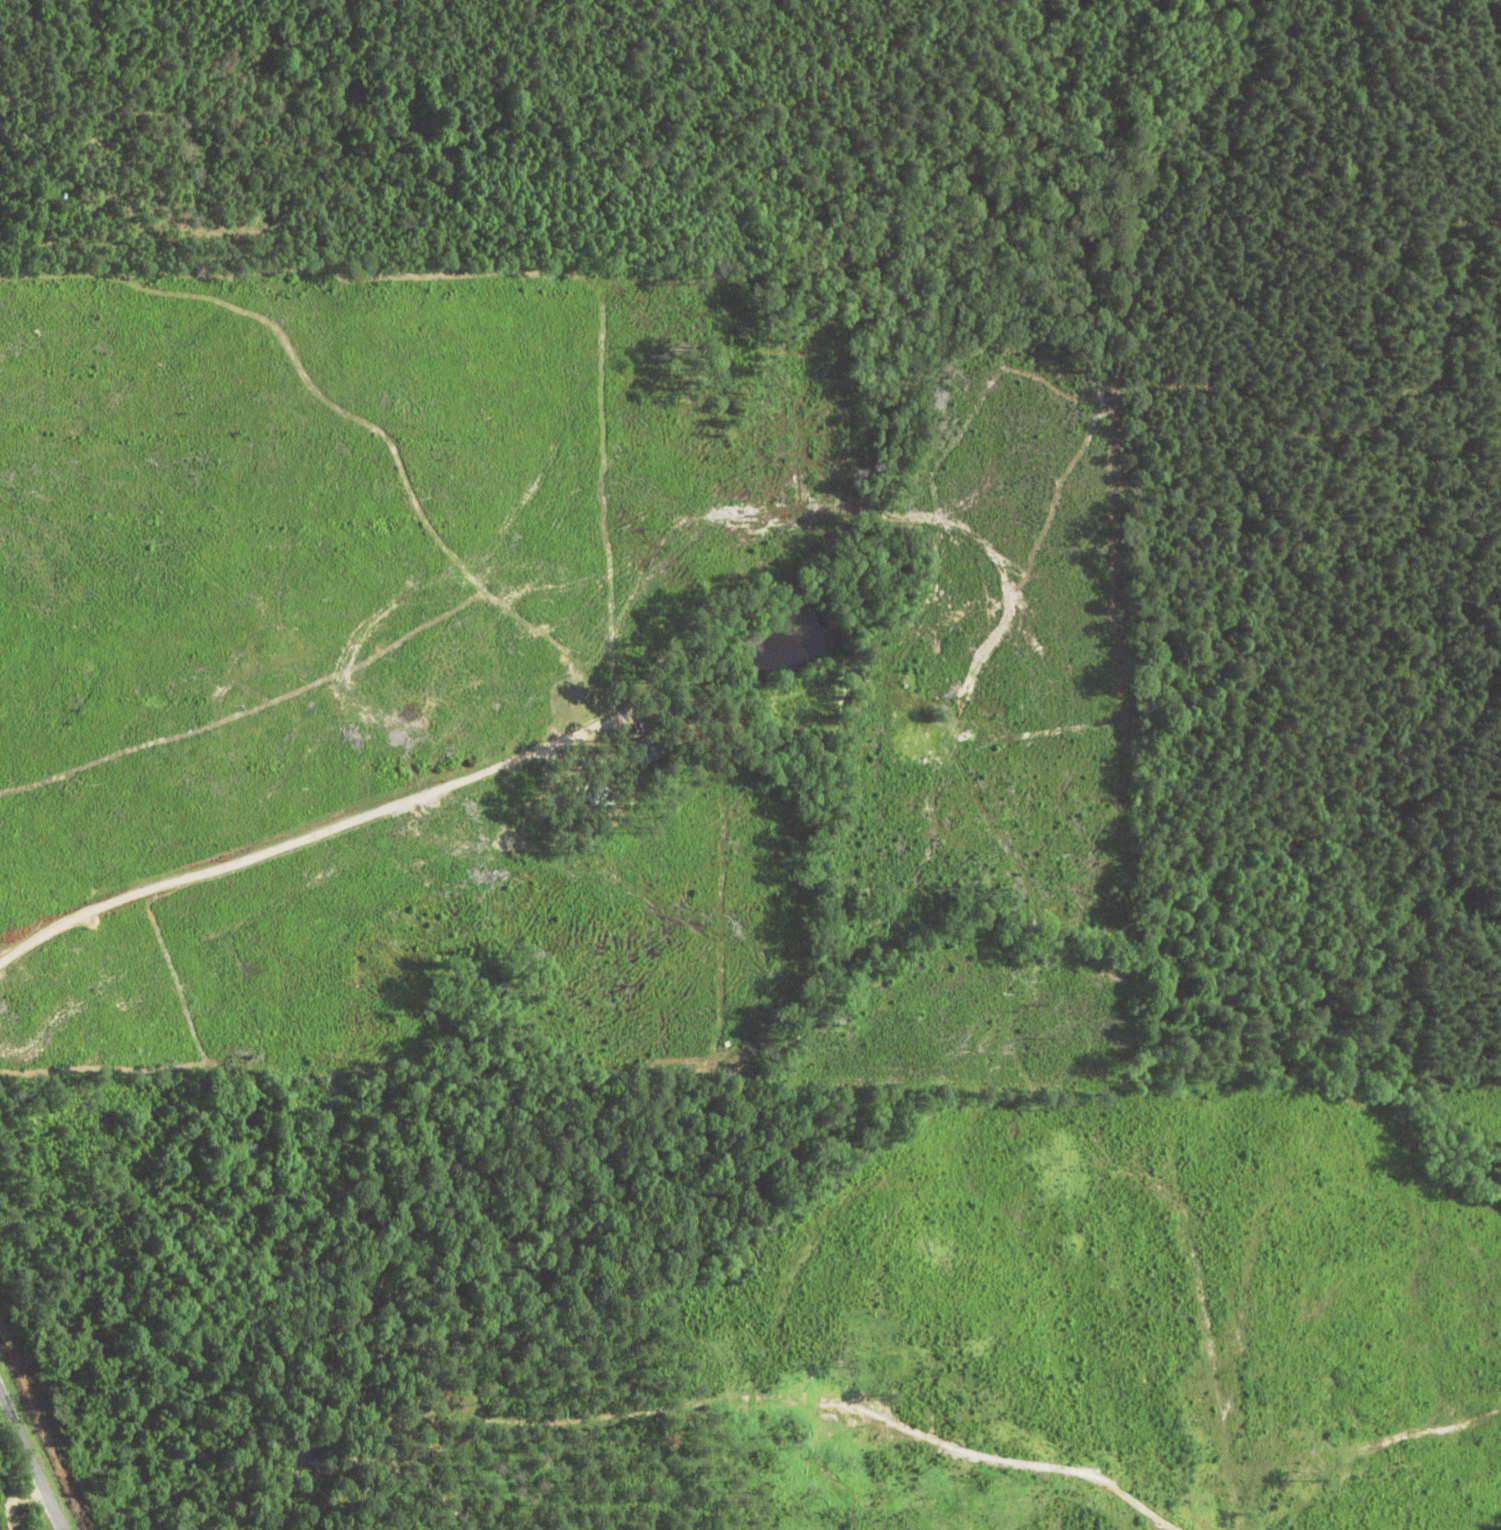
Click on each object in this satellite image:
building: (642, 752)
road: (30, 1461)

